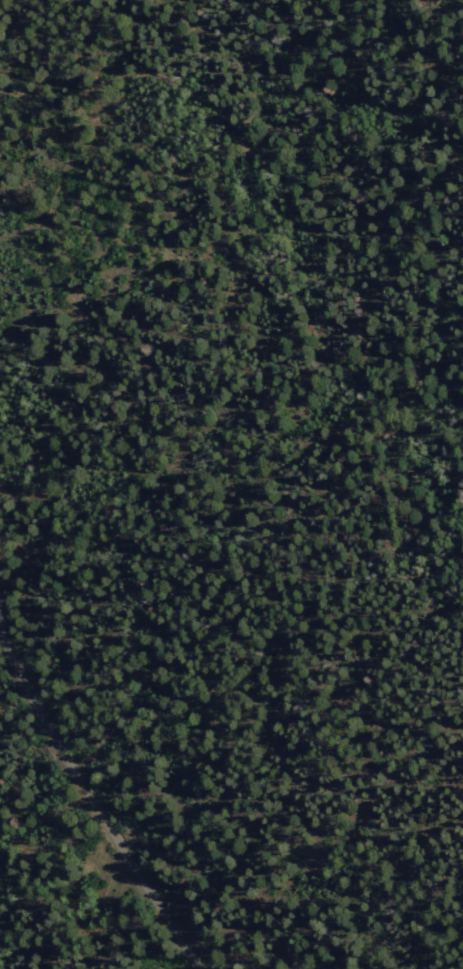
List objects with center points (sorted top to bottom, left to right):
road: (108, 818)

